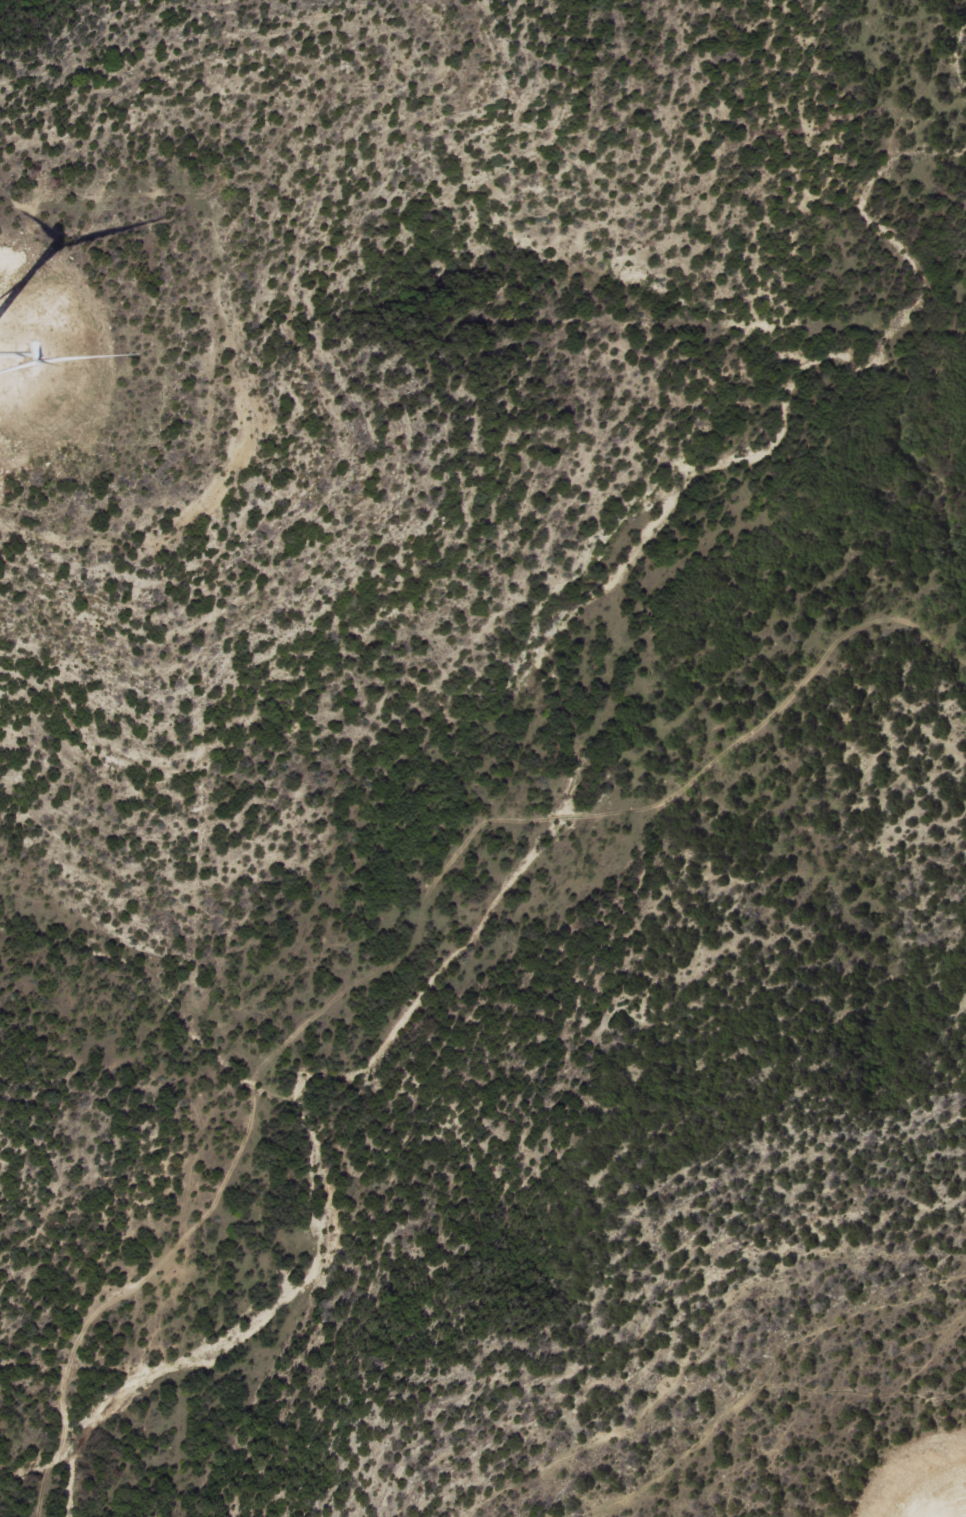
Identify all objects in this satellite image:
road: (365, 934)

